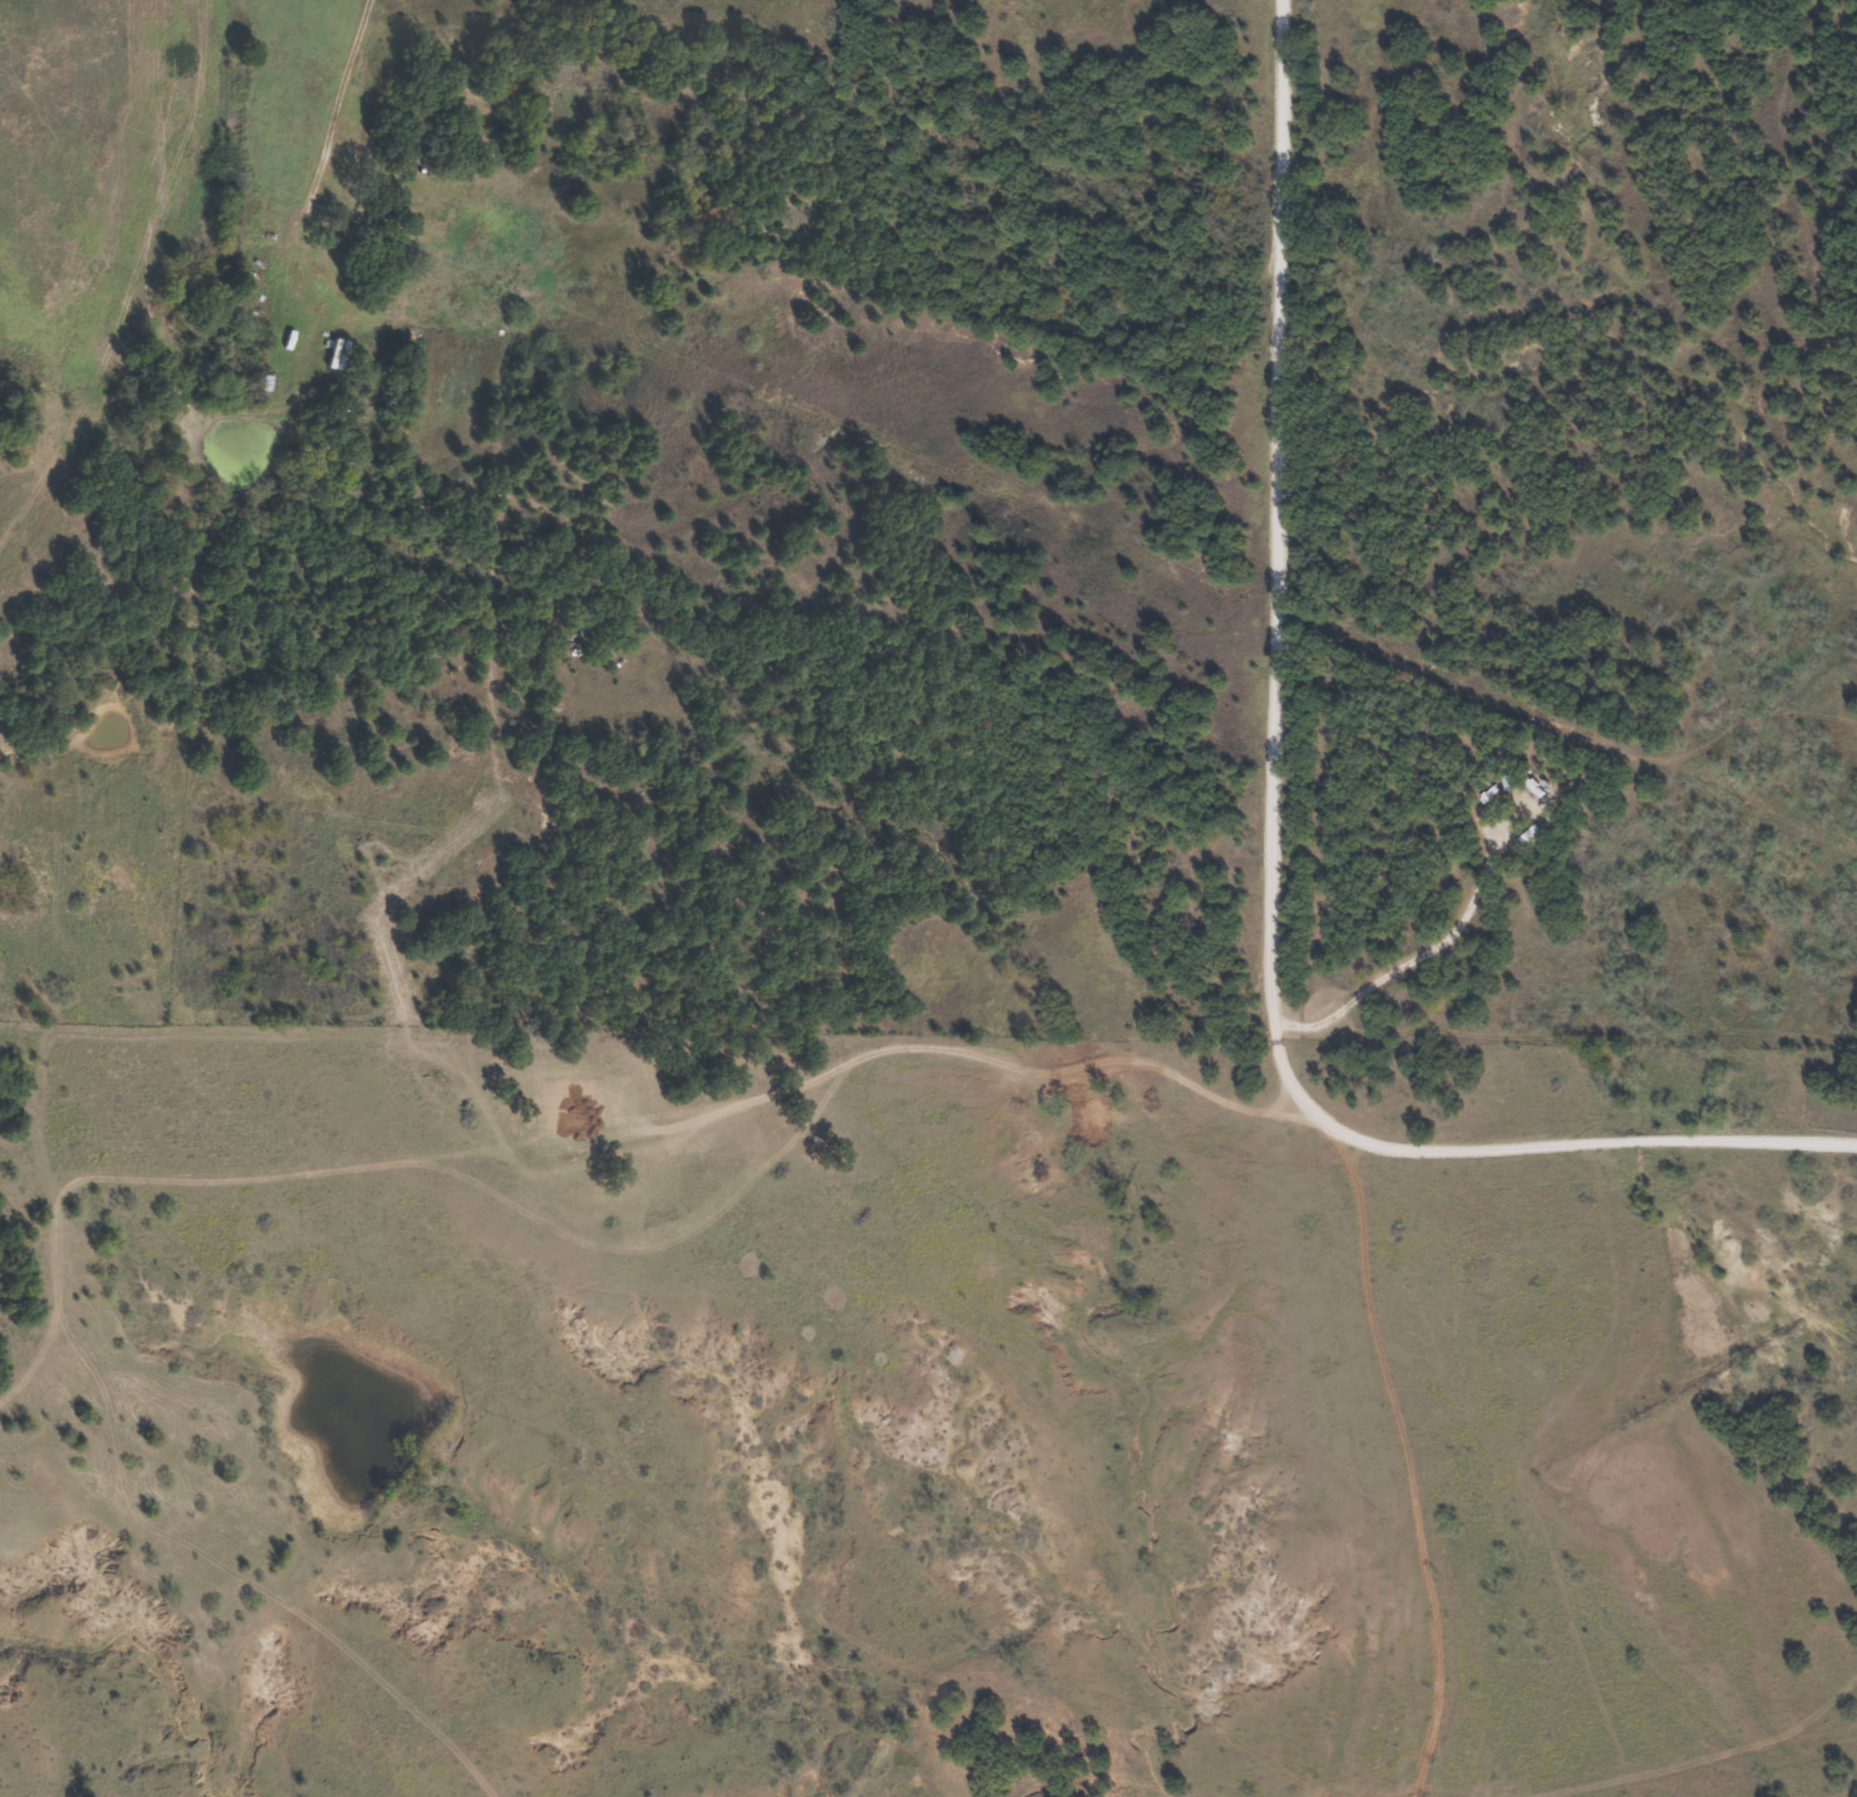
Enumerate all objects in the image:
building: (1511, 782)
building: (1531, 834)
road: (1276, 845)

